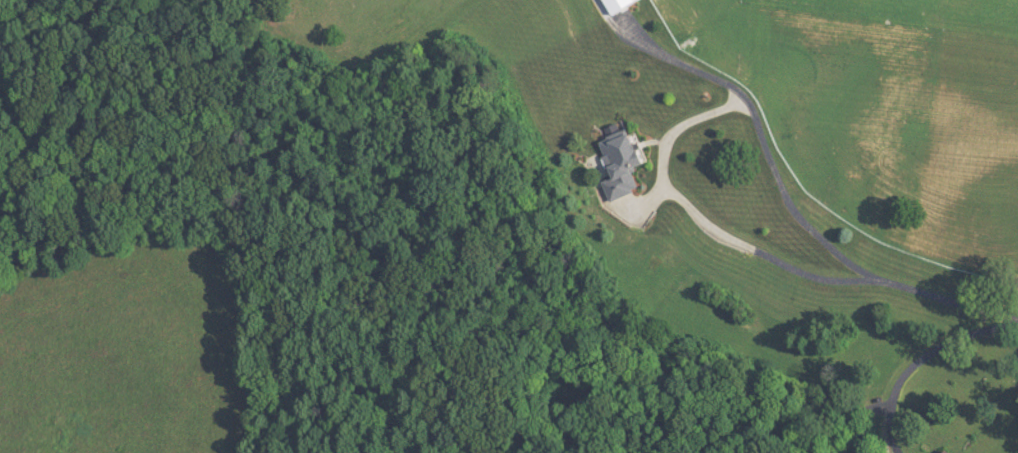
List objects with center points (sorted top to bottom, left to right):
building: (617, 6)
building: (622, 161)
road: (803, 211)
road: (925, 362)

